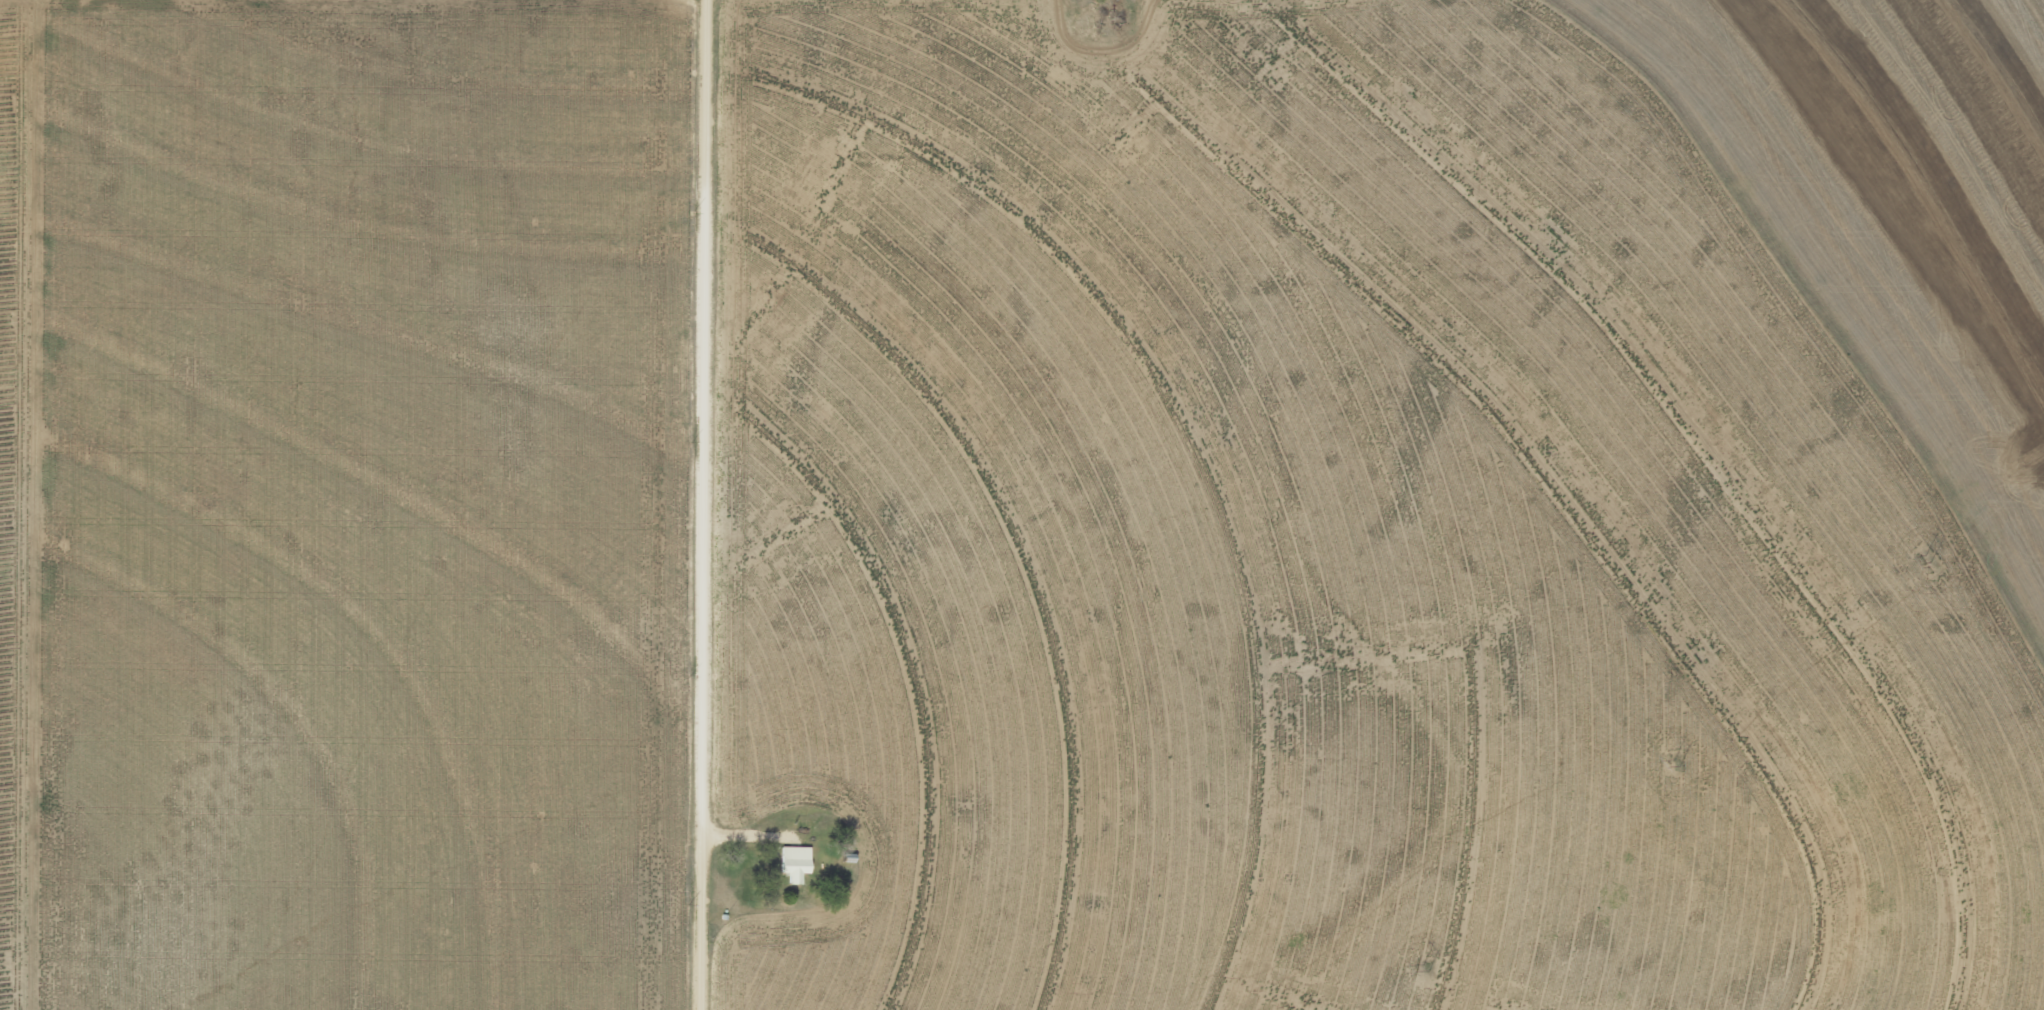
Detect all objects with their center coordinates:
road: (724, 505)
power tower: (1932, 554)
power tower: (1674, 762)
building: (794, 863)
power tower: (1422, 965)

